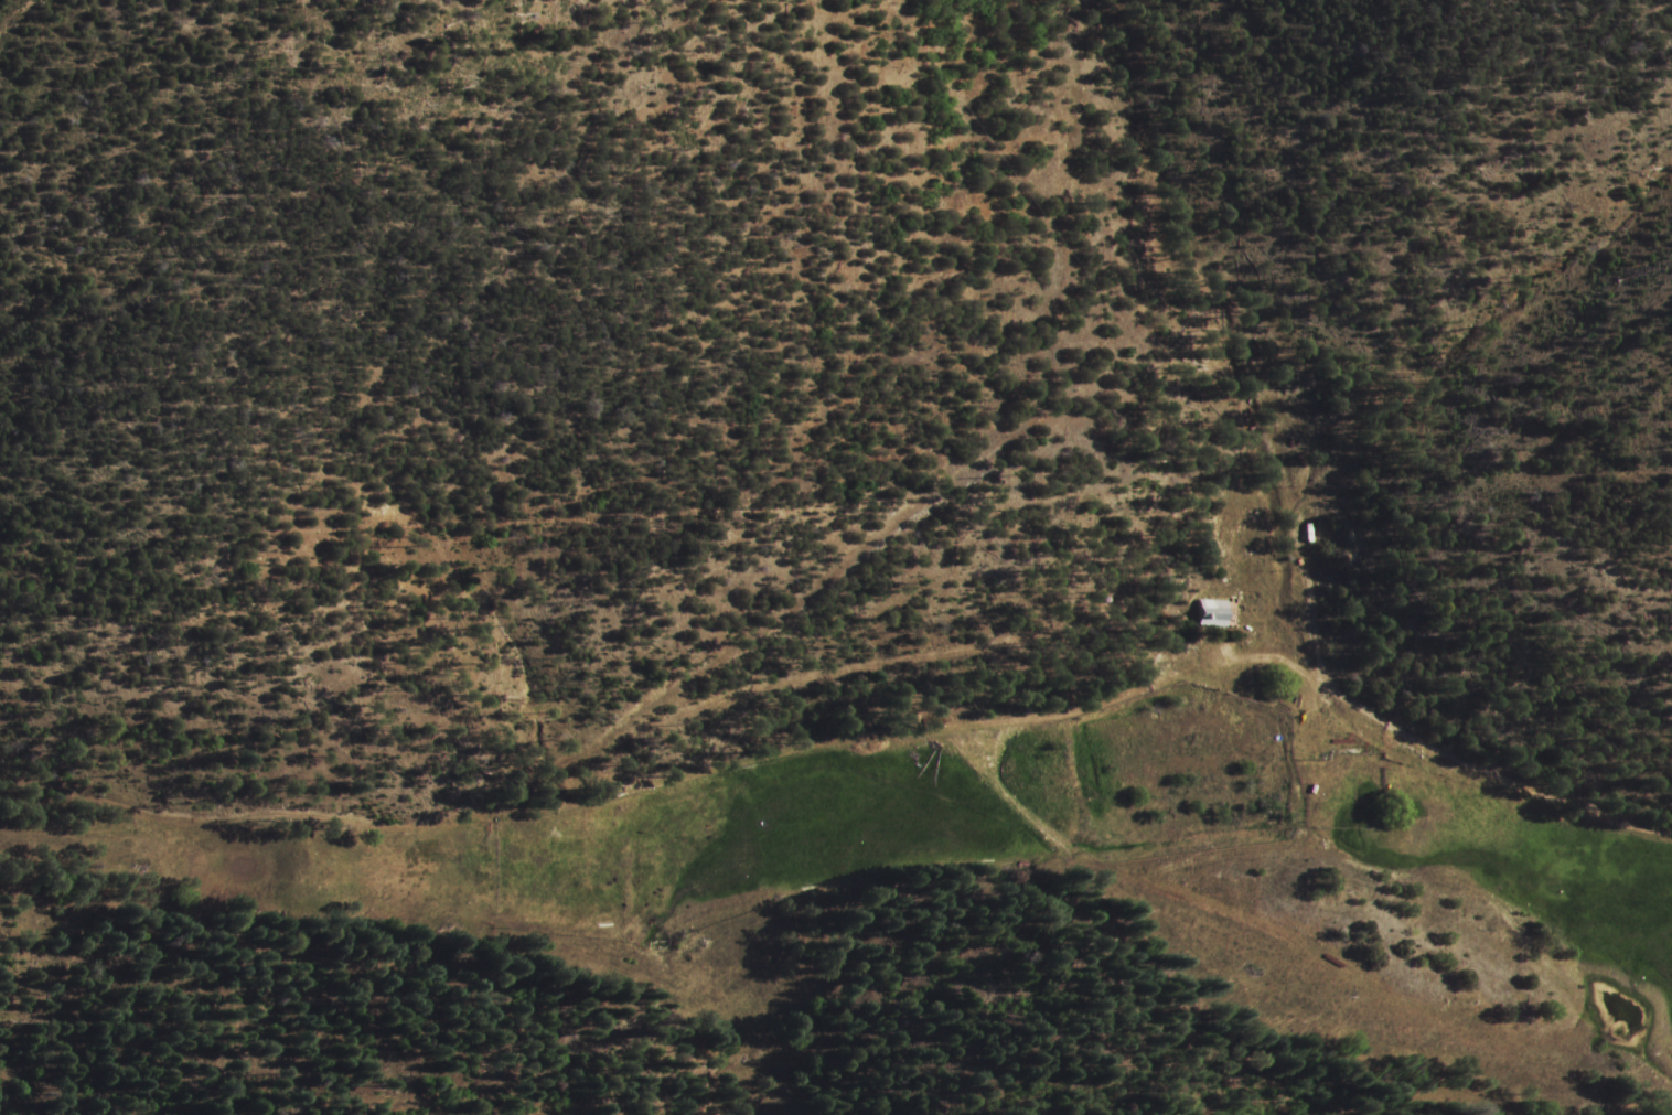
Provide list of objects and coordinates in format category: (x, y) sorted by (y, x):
building: (1215, 613)
road: (1472, 741)

